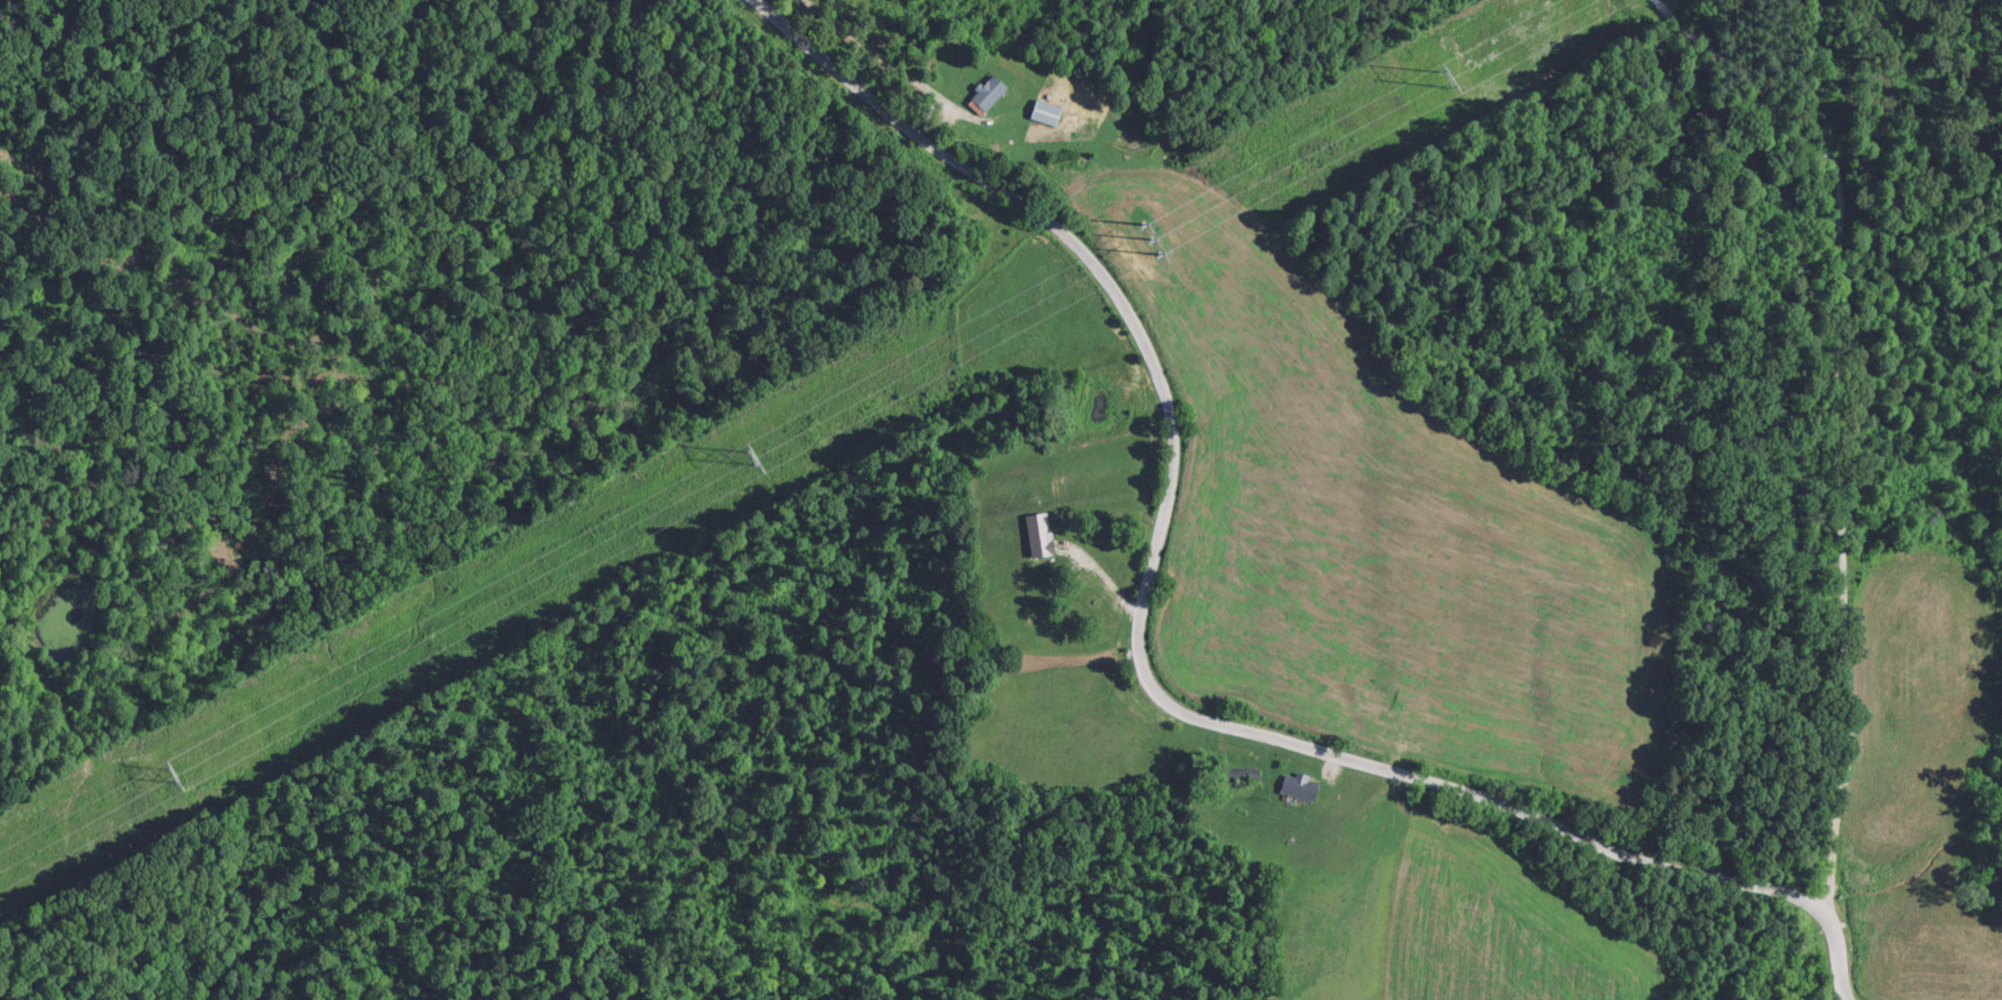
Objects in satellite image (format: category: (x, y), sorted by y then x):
road: (885, 62)
power tower: (1431, 81)
building: (990, 90)
building: (1041, 111)
power tower: (1119, 252)
road: (1843, 420)
power tower: (752, 457)
road: (1142, 652)
building: (1236, 772)
power tower: (176, 774)
building: (1295, 786)

